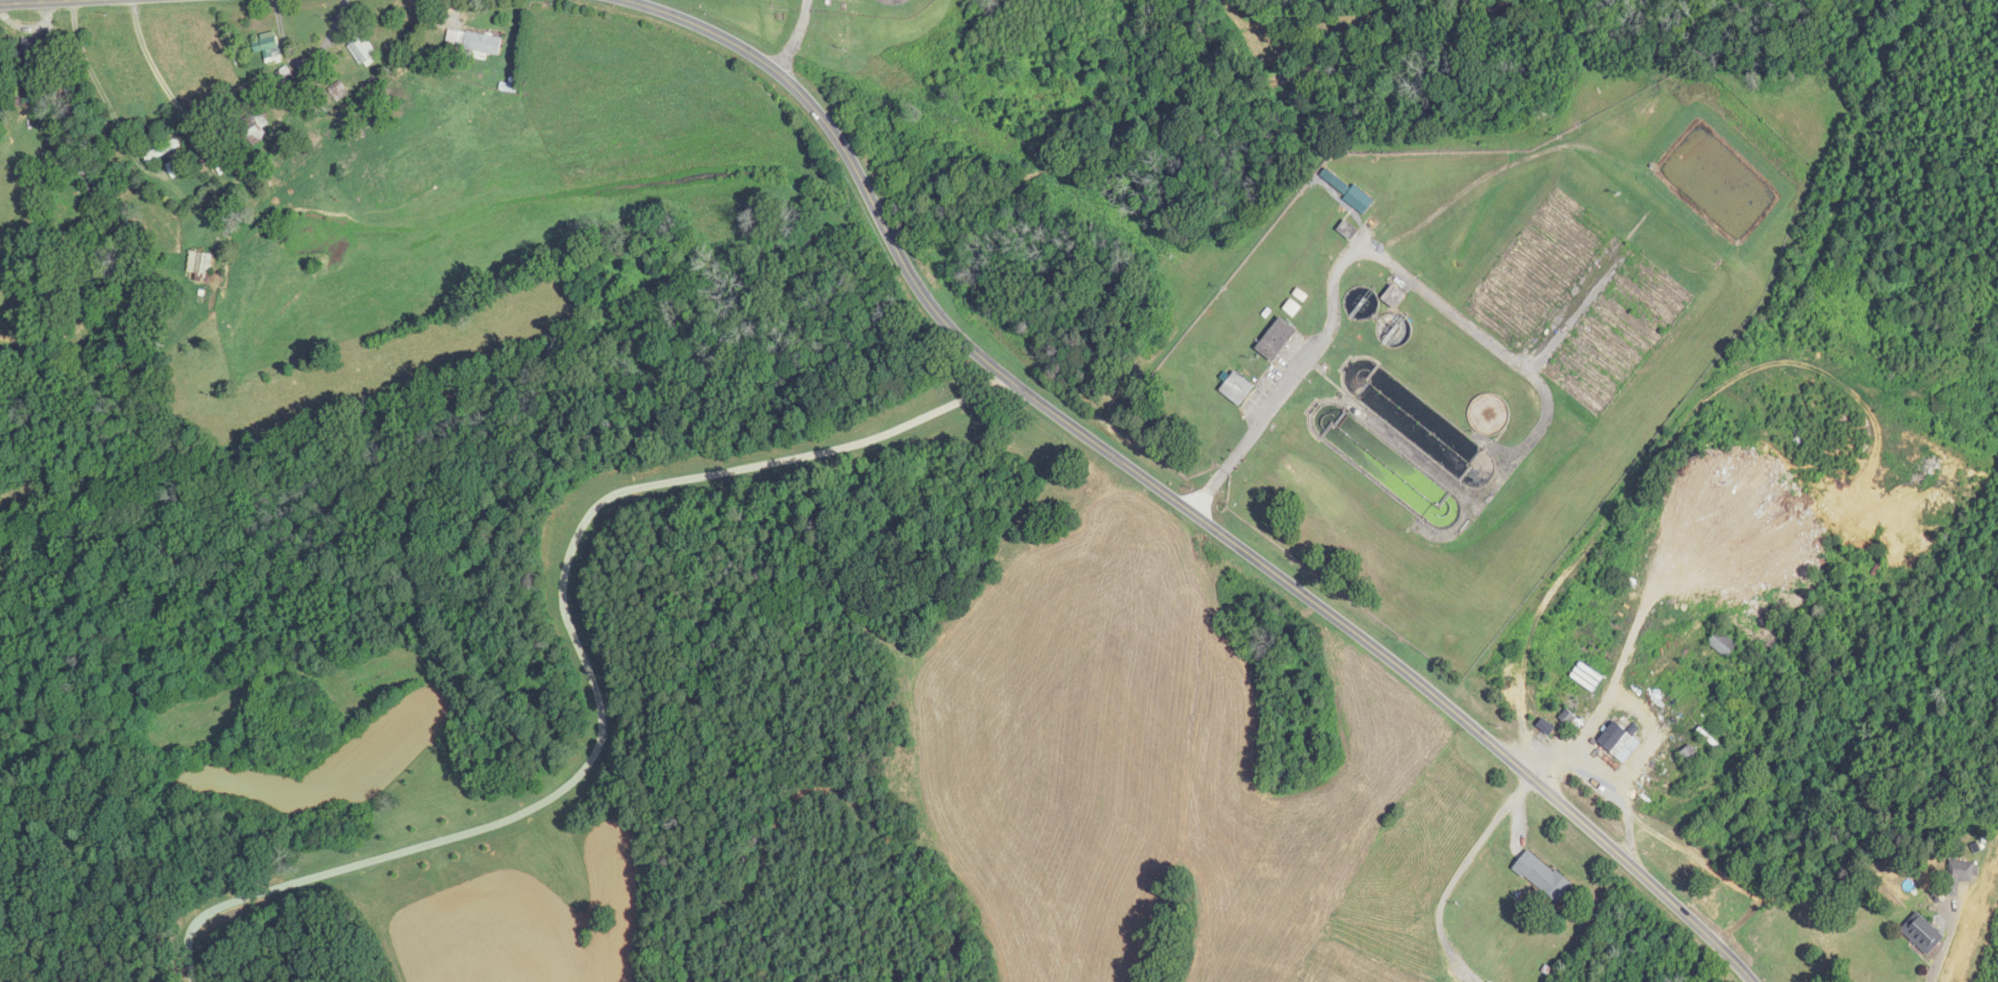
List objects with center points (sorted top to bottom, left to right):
road: (37, 1)
road: (795, 36)
building: (474, 42)
building: (269, 47)
building: (365, 50)
building: (31, 58)
road: (90, 69)
road: (159, 75)
building: (283, 79)
building: (255, 127)
building: (60, 146)
building: (163, 151)
road: (138, 161)
building: (201, 264)
building: (1277, 340)
road: (1296, 376)
building: (1238, 389)
road: (1173, 497)
building: (1723, 644)
road: (584, 659)
building: (1546, 726)
building: (1616, 738)
building: (1690, 755)
road: (1609, 778)
building: (1694, 793)
road: (1456, 874)
building: (1959, 876)
building: (1543, 877)
building: (1923, 934)
road: (1945, 944)
building: (1504, 951)

